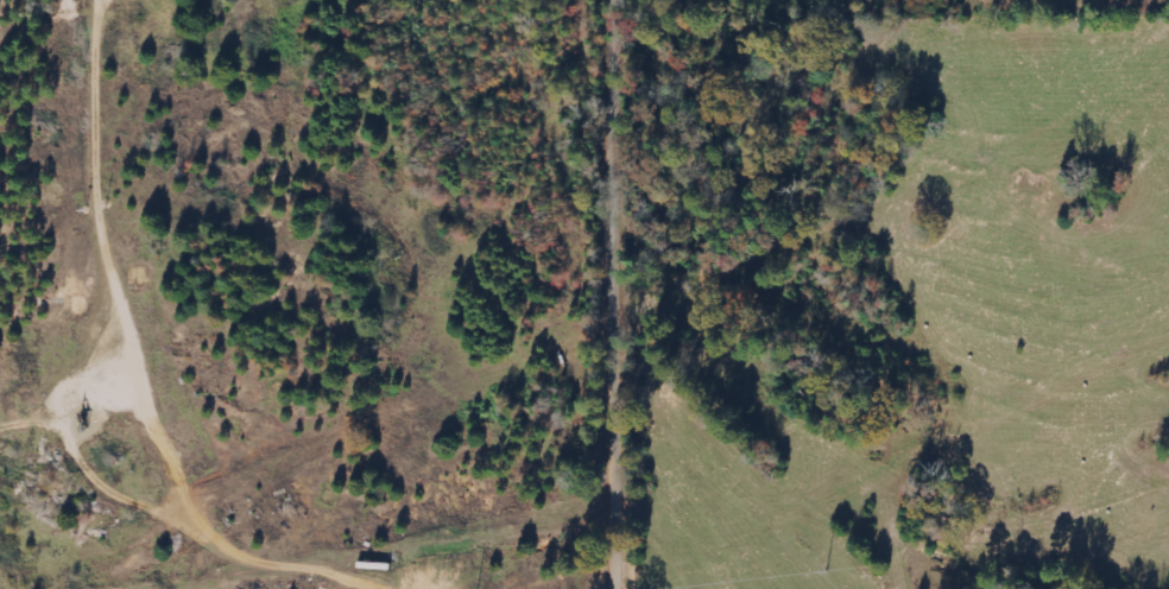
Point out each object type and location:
road: (627, 293)
road: (525, 419)

